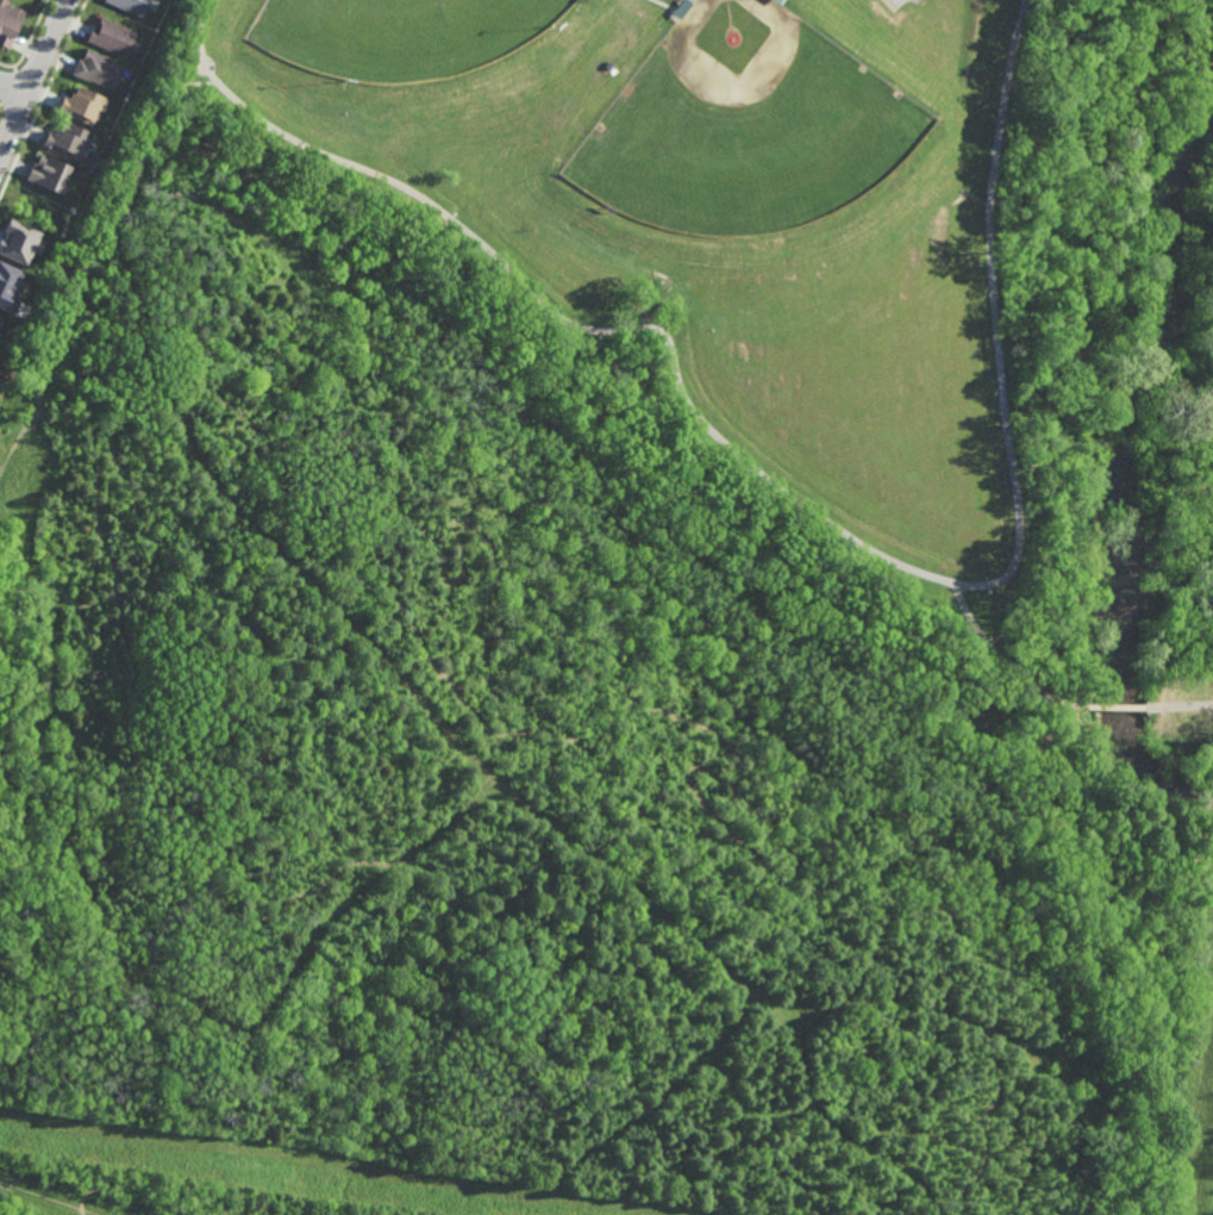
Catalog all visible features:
building: (132, 6)
road: (208, 19)
building: (8, 21)
park: (402, 35)
building: (112, 37)
building: (98, 69)
road: (38, 79)
road: (14, 92)
building: (82, 106)
park: (746, 124)
building: (65, 141)
building: (49, 174)
park: (956, 199)
road: (119, 222)
building: (19, 242)
road: (1127, 270)
park: (661, 274)
building: (8, 285)
road: (996, 314)
building: (0, 318)
road: (117, 320)
road: (576, 325)
road: (44, 368)
road: (1089, 461)
road: (1194, 465)
road: (383, 498)
road: (1177, 505)
road: (219, 585)
road: (611, 591)
park: (621, 621)
road: (1063, 648)
road: (135, 659)
road: (1008, 661)
road: (755, 671)
road: (980, 671)
road: (1098, 696)
road: (961, 699)
road: (640, 703)
road: (1045, 704)
road: (1117, 704)
road: (1178, 704)
road: (1037, 717)
road: (1031, 731)
road: (35, 747)
road: (489, 769)
road: (1089, 779)
road: (1105, 853)
road: (1056, 861)
road: (145, 873)
road: (495, 895)
road: (101, 923)
road: (401, 957)
road: (1073, 990)
road: (61, 1001)
road: (939, 1003)
road: (465, 1021)
road: (1046, 1021)
road: (604, 1046)
road: (1086, 1048)
road: (657, 1098)
road: (746, 1108)
road: (235, 1110)
road: (926, 1133)
road: (334, 1164)
road: (1208, 1184)
road: (782, 1188)
road: (152, 1189)
road: (693, 1192)
road: (48, 1196)
road: (938, 1205)

